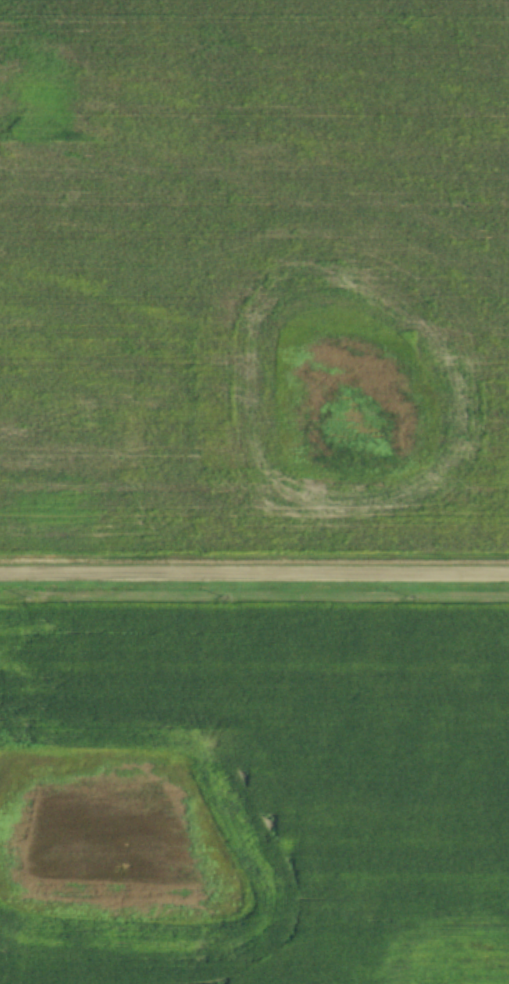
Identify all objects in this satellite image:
road: (254, 572)

